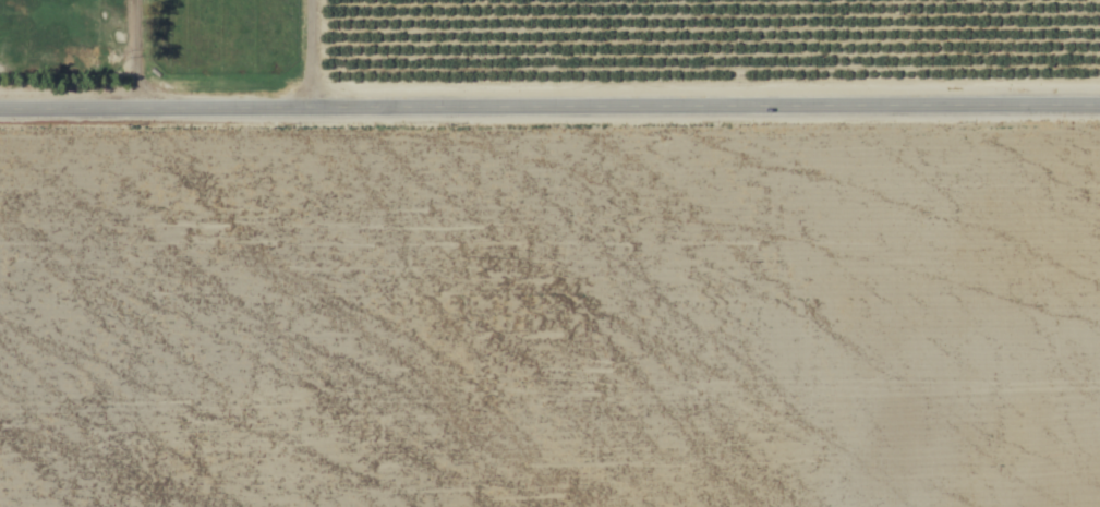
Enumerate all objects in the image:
road: (134, 52)
road: (311, 52)
road: (549, 102)
crop: (549, 253)

